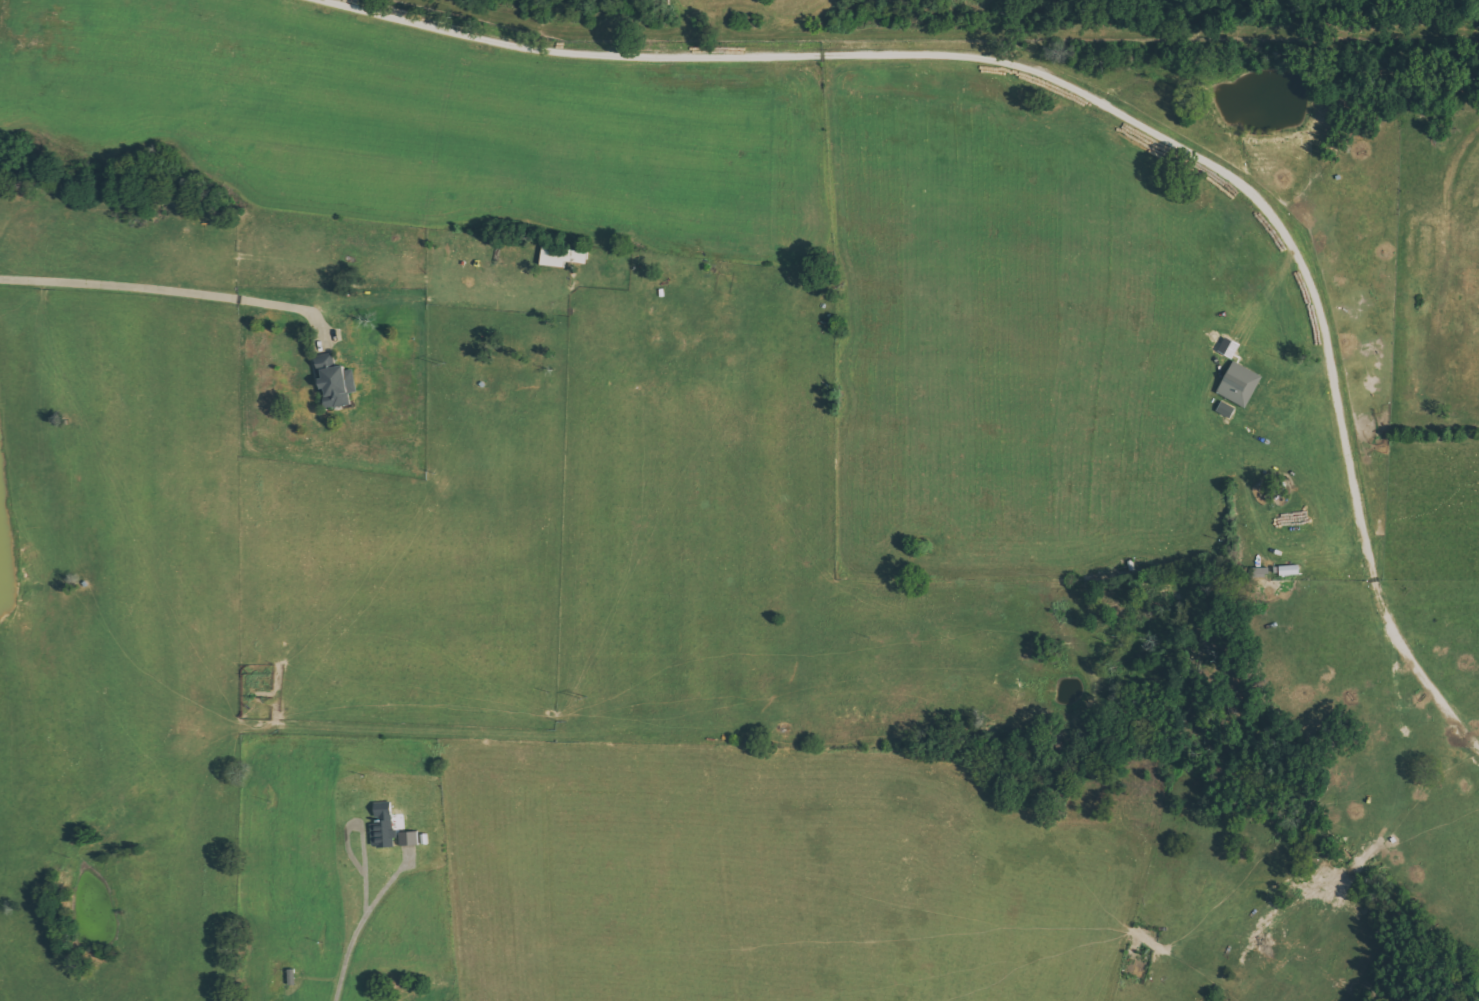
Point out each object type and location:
building: (334, 382)
building: (1238, 384)
road: (43, 789)
building: (382, 825)
building: (408, 838)

